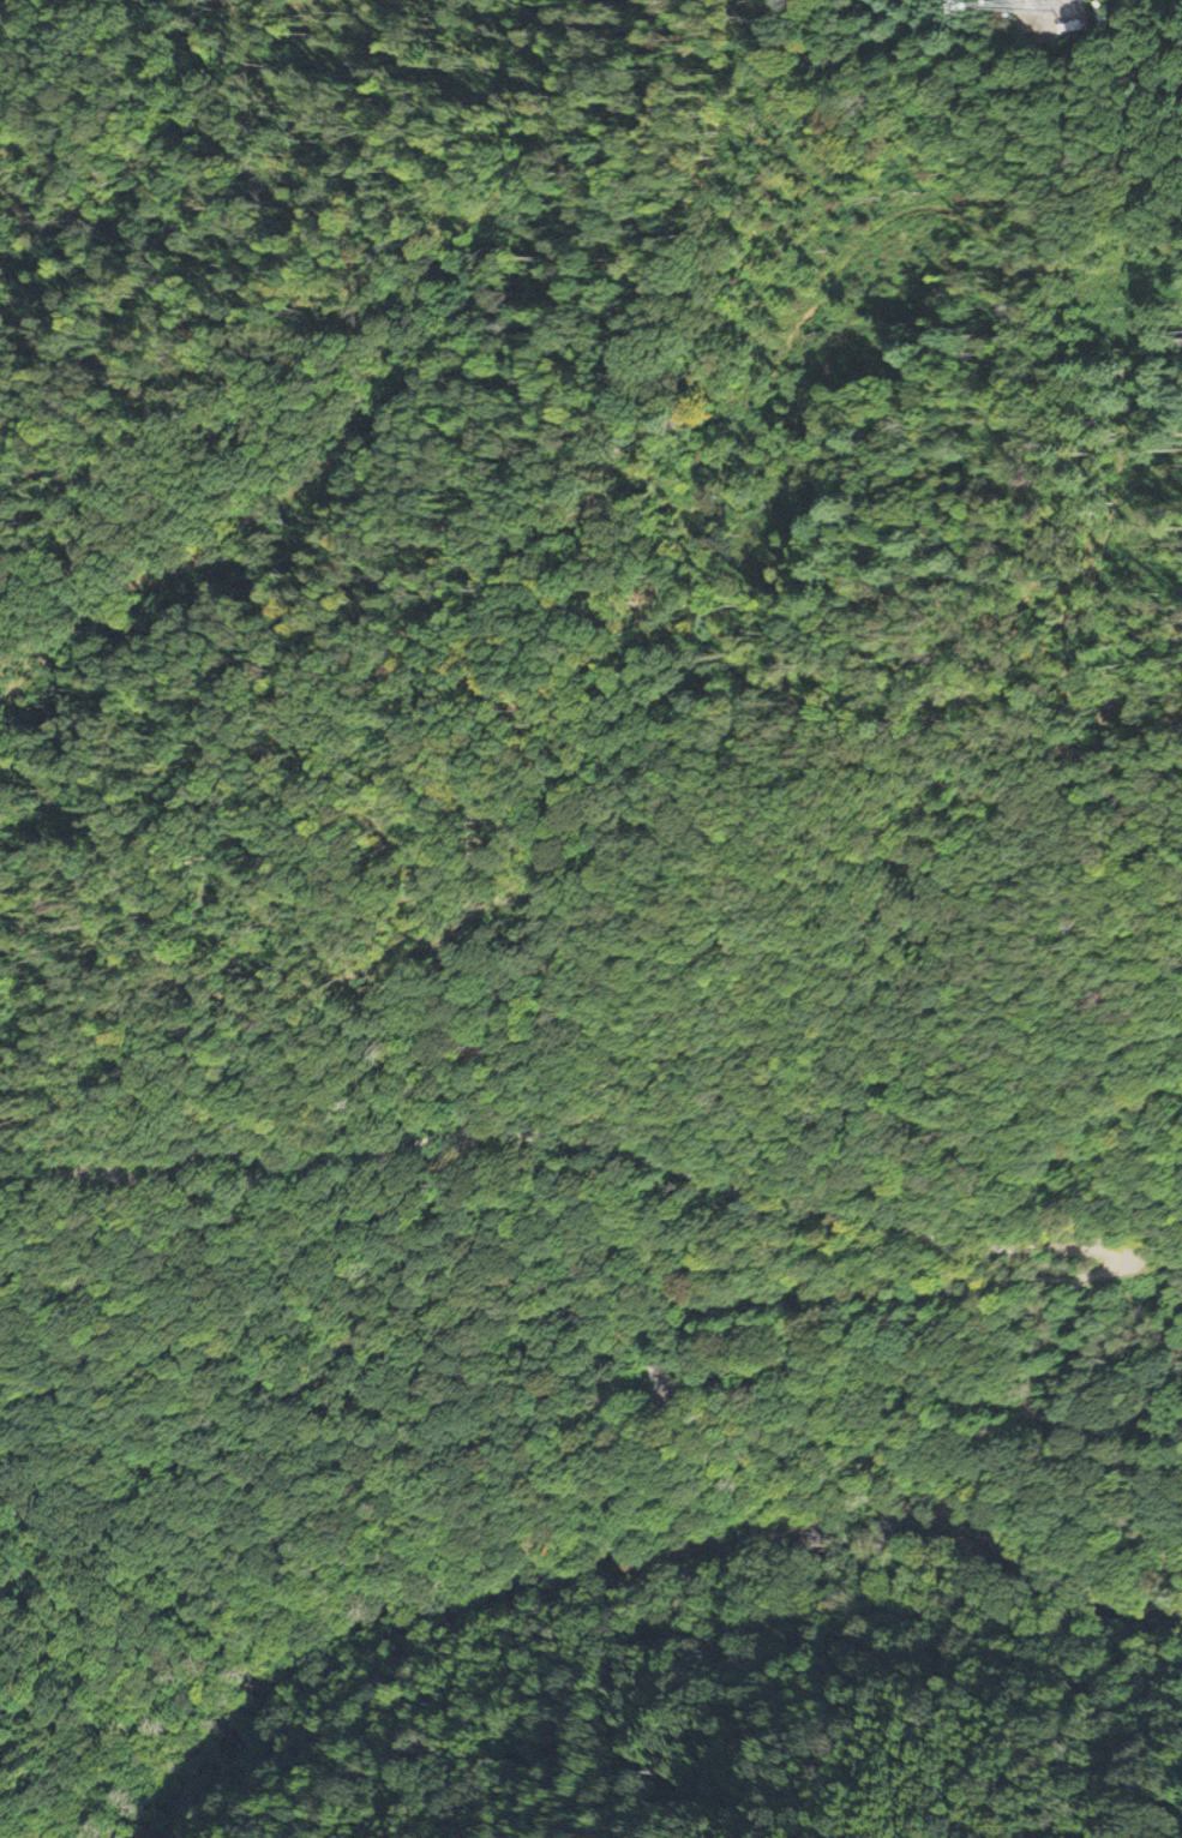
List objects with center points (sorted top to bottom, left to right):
road: (1072, 1)
building: (1103, 11)
road: (1090, 1243)
road: (1150, 1262)

